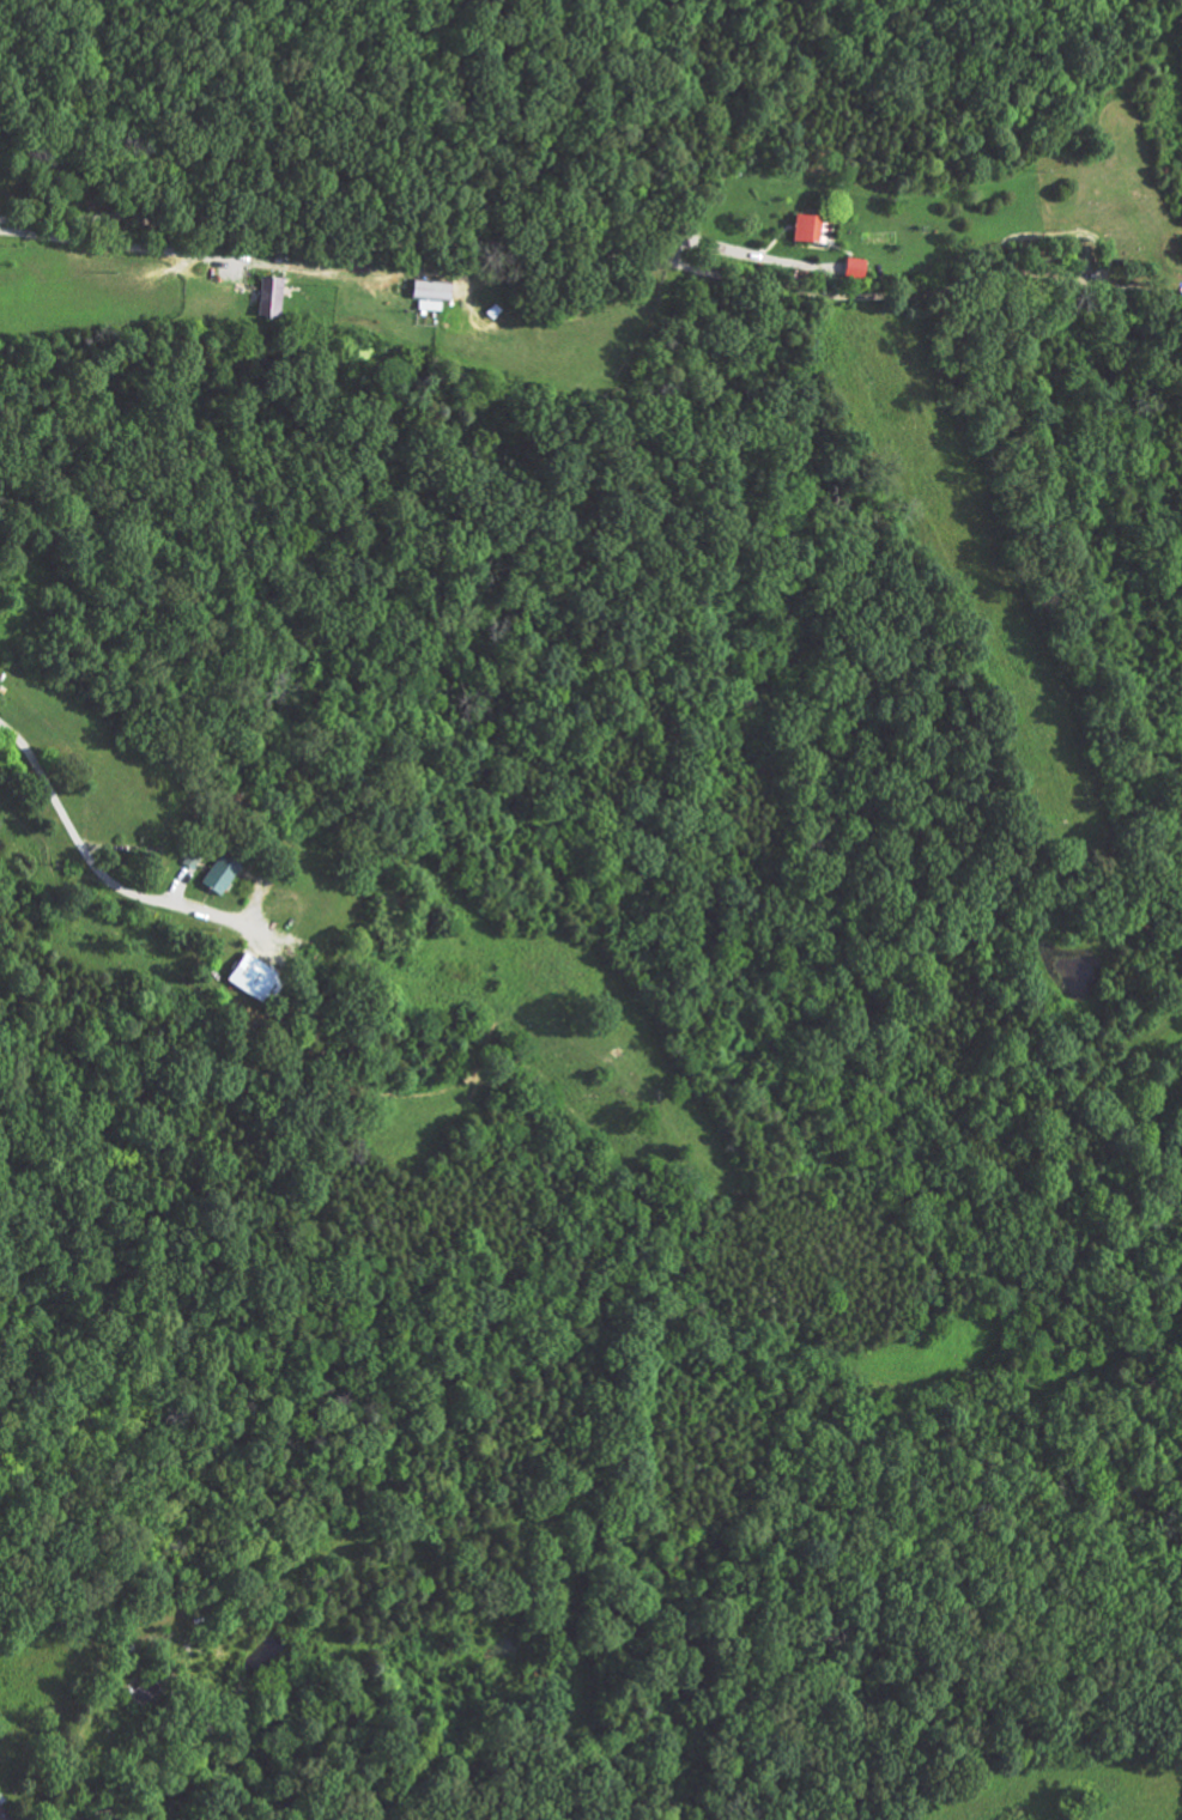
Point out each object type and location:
building: (857, 208)
road: (104, 239)
road: (520, 247)
building: (903, 248)
building: (480, 271)
building: (319, 277)
building: (477, 286)
building: (7, 643)
building: (269, 855)
road: (107, 881)
building: (305, 960)
building: (43, 1788)

